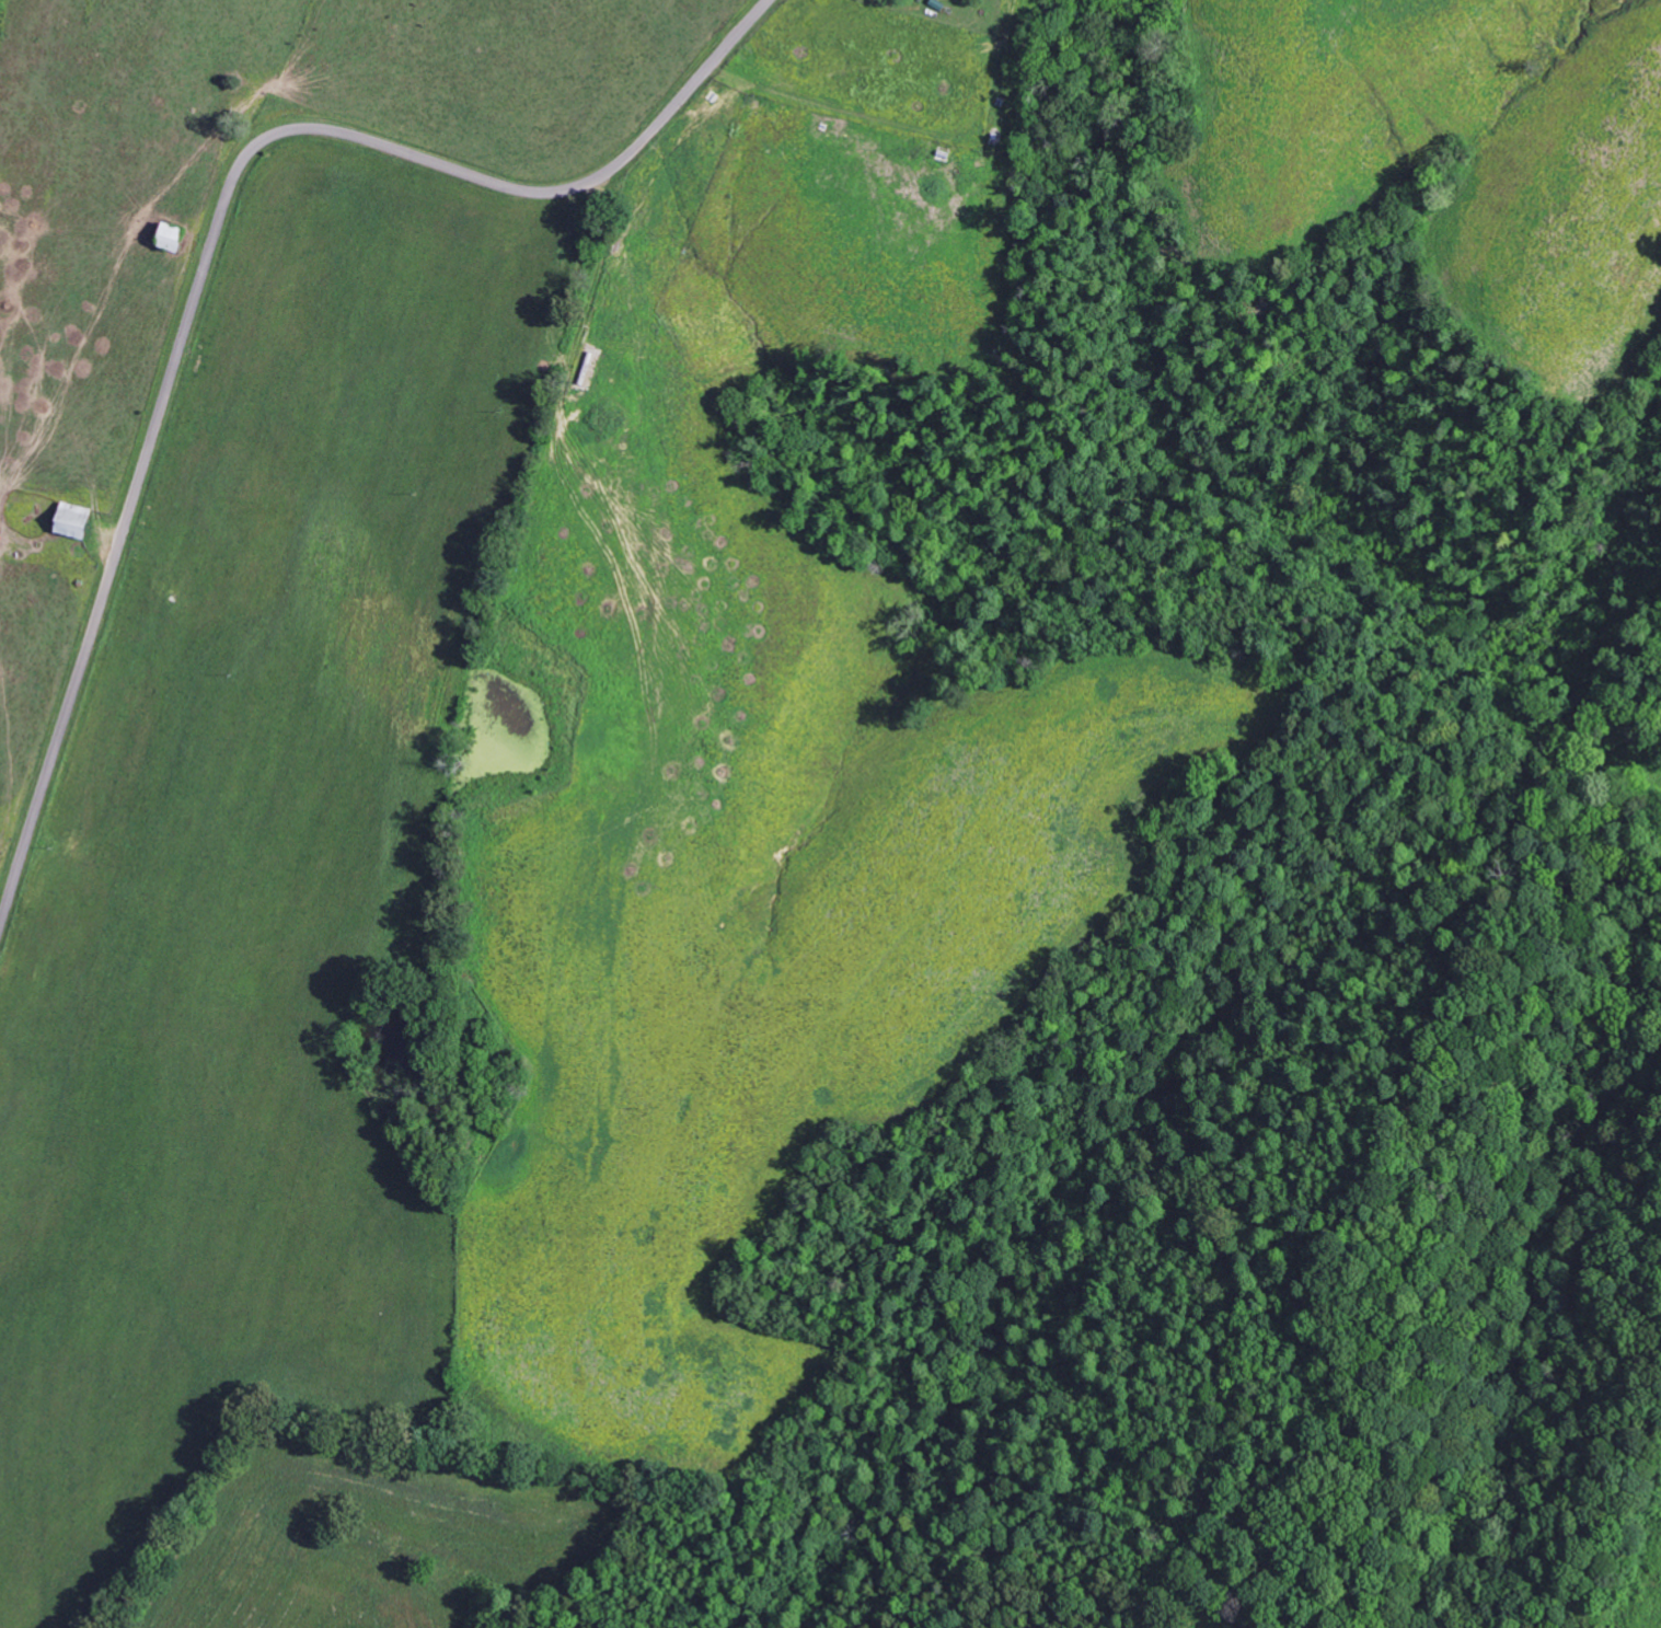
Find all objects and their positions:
road: (211, 245)

